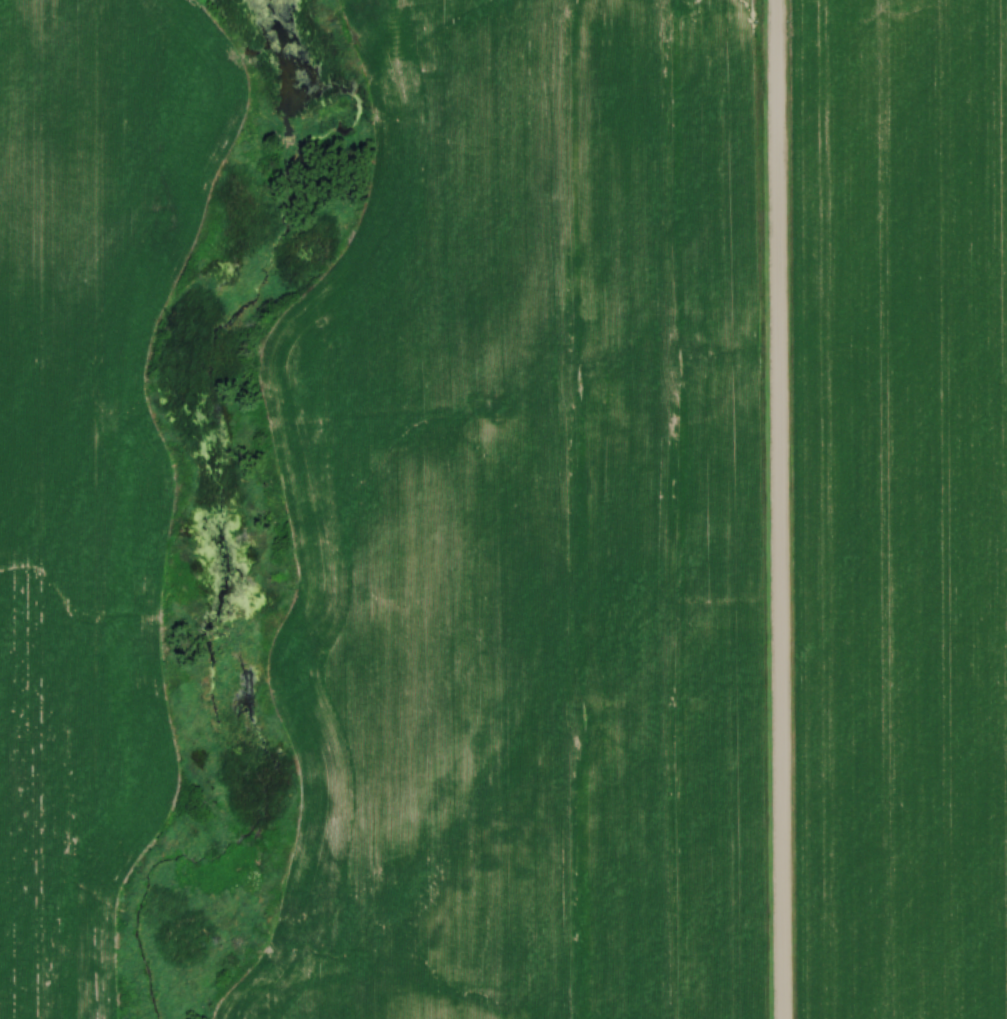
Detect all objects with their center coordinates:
road: (774, 509)

